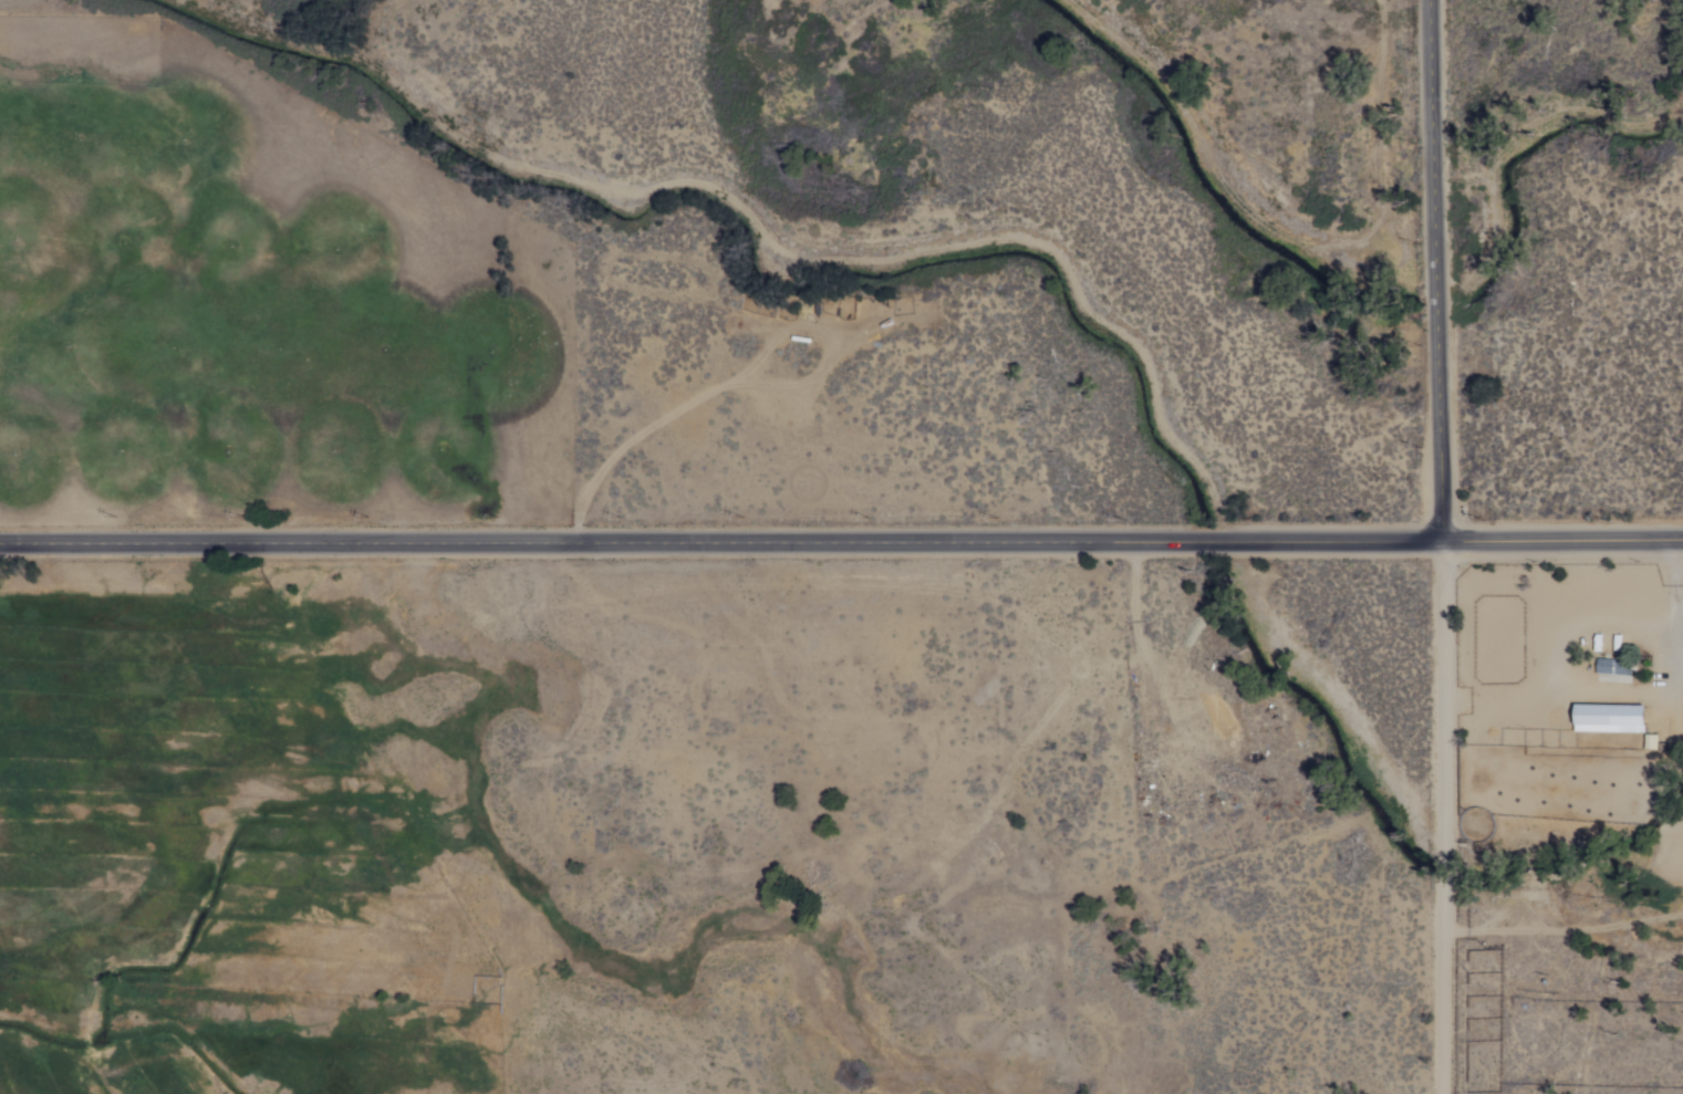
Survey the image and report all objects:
road: (1433, 270)
road: (1561, 539)
road: (720, 542)
building: (1612, 665)
building: (1612, 716)
building: (1652, 739)
road: (1444, 816)

